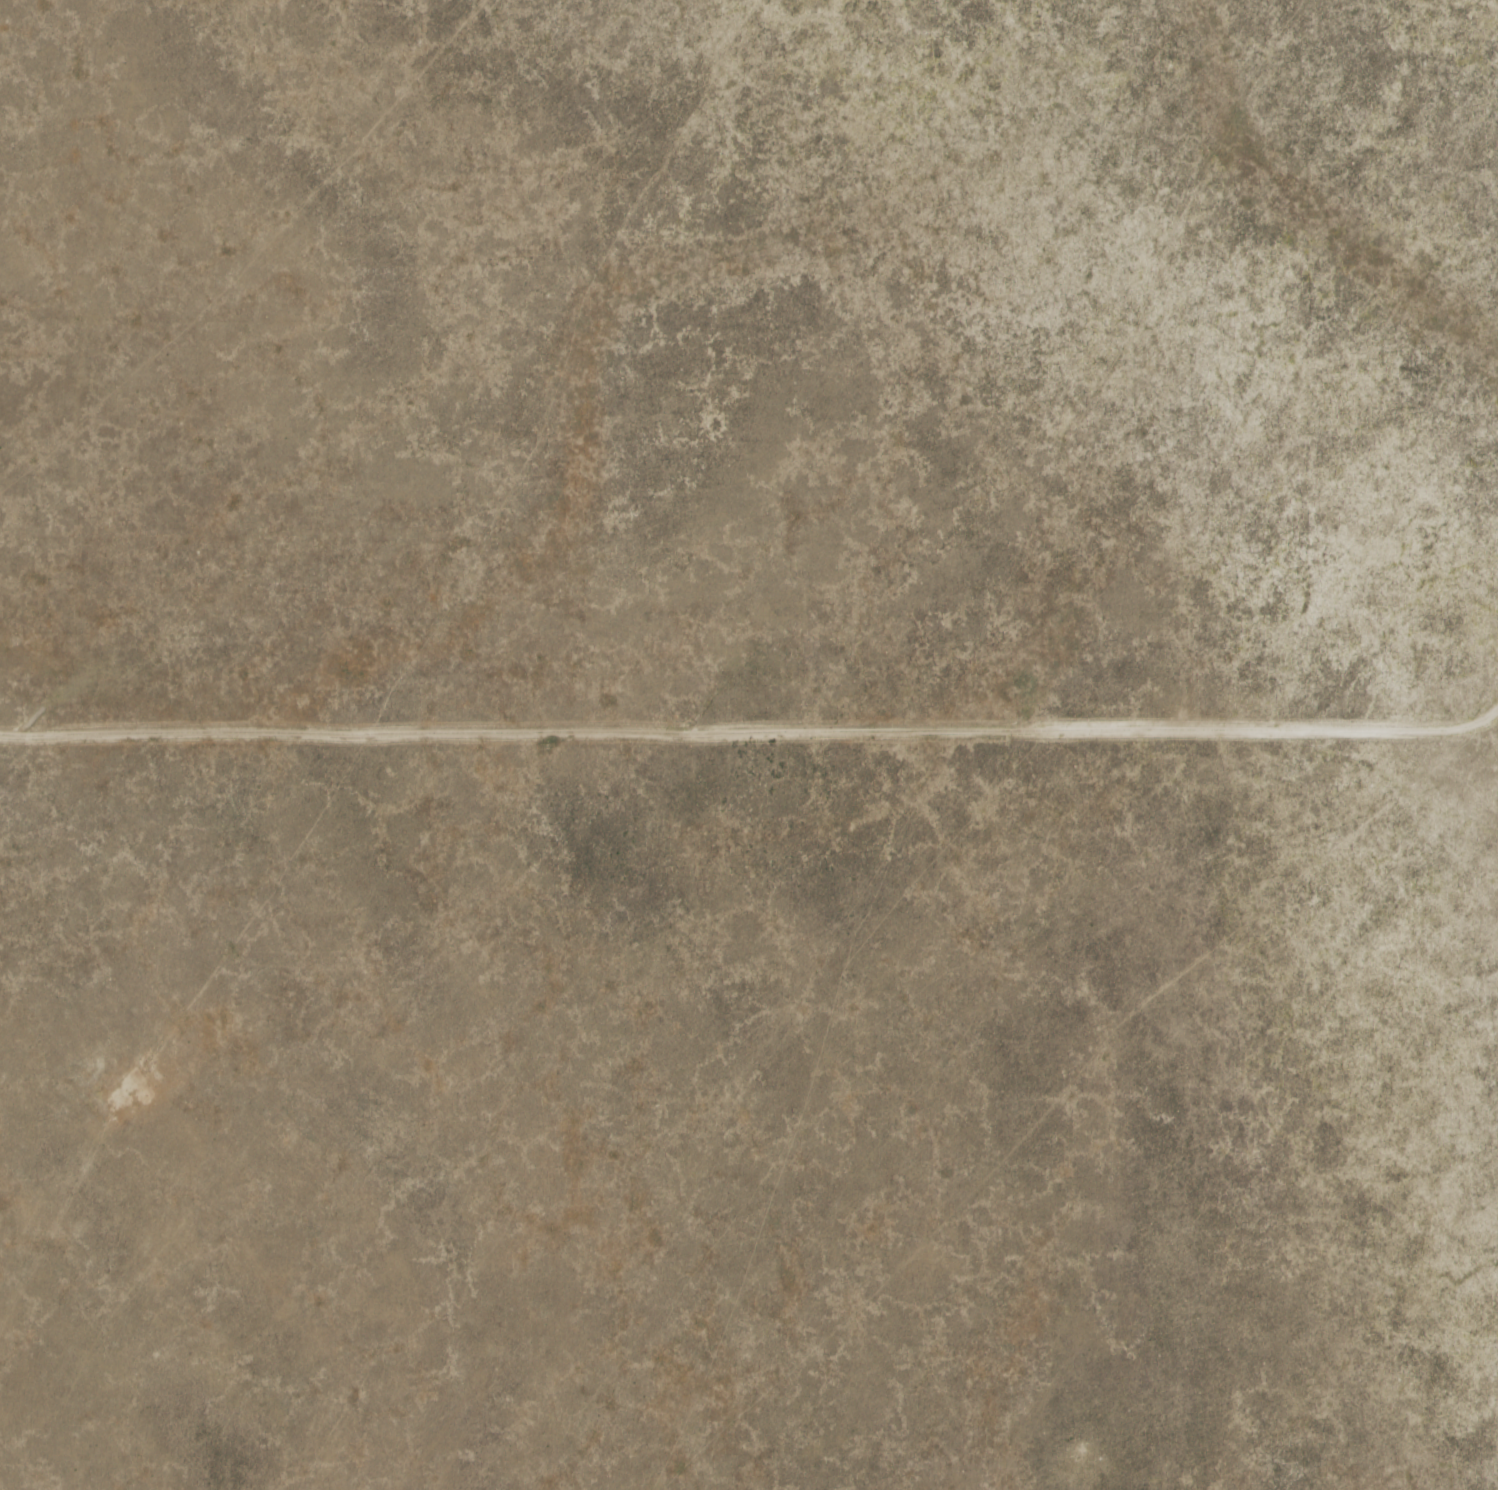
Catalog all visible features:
road: (749, 689)

